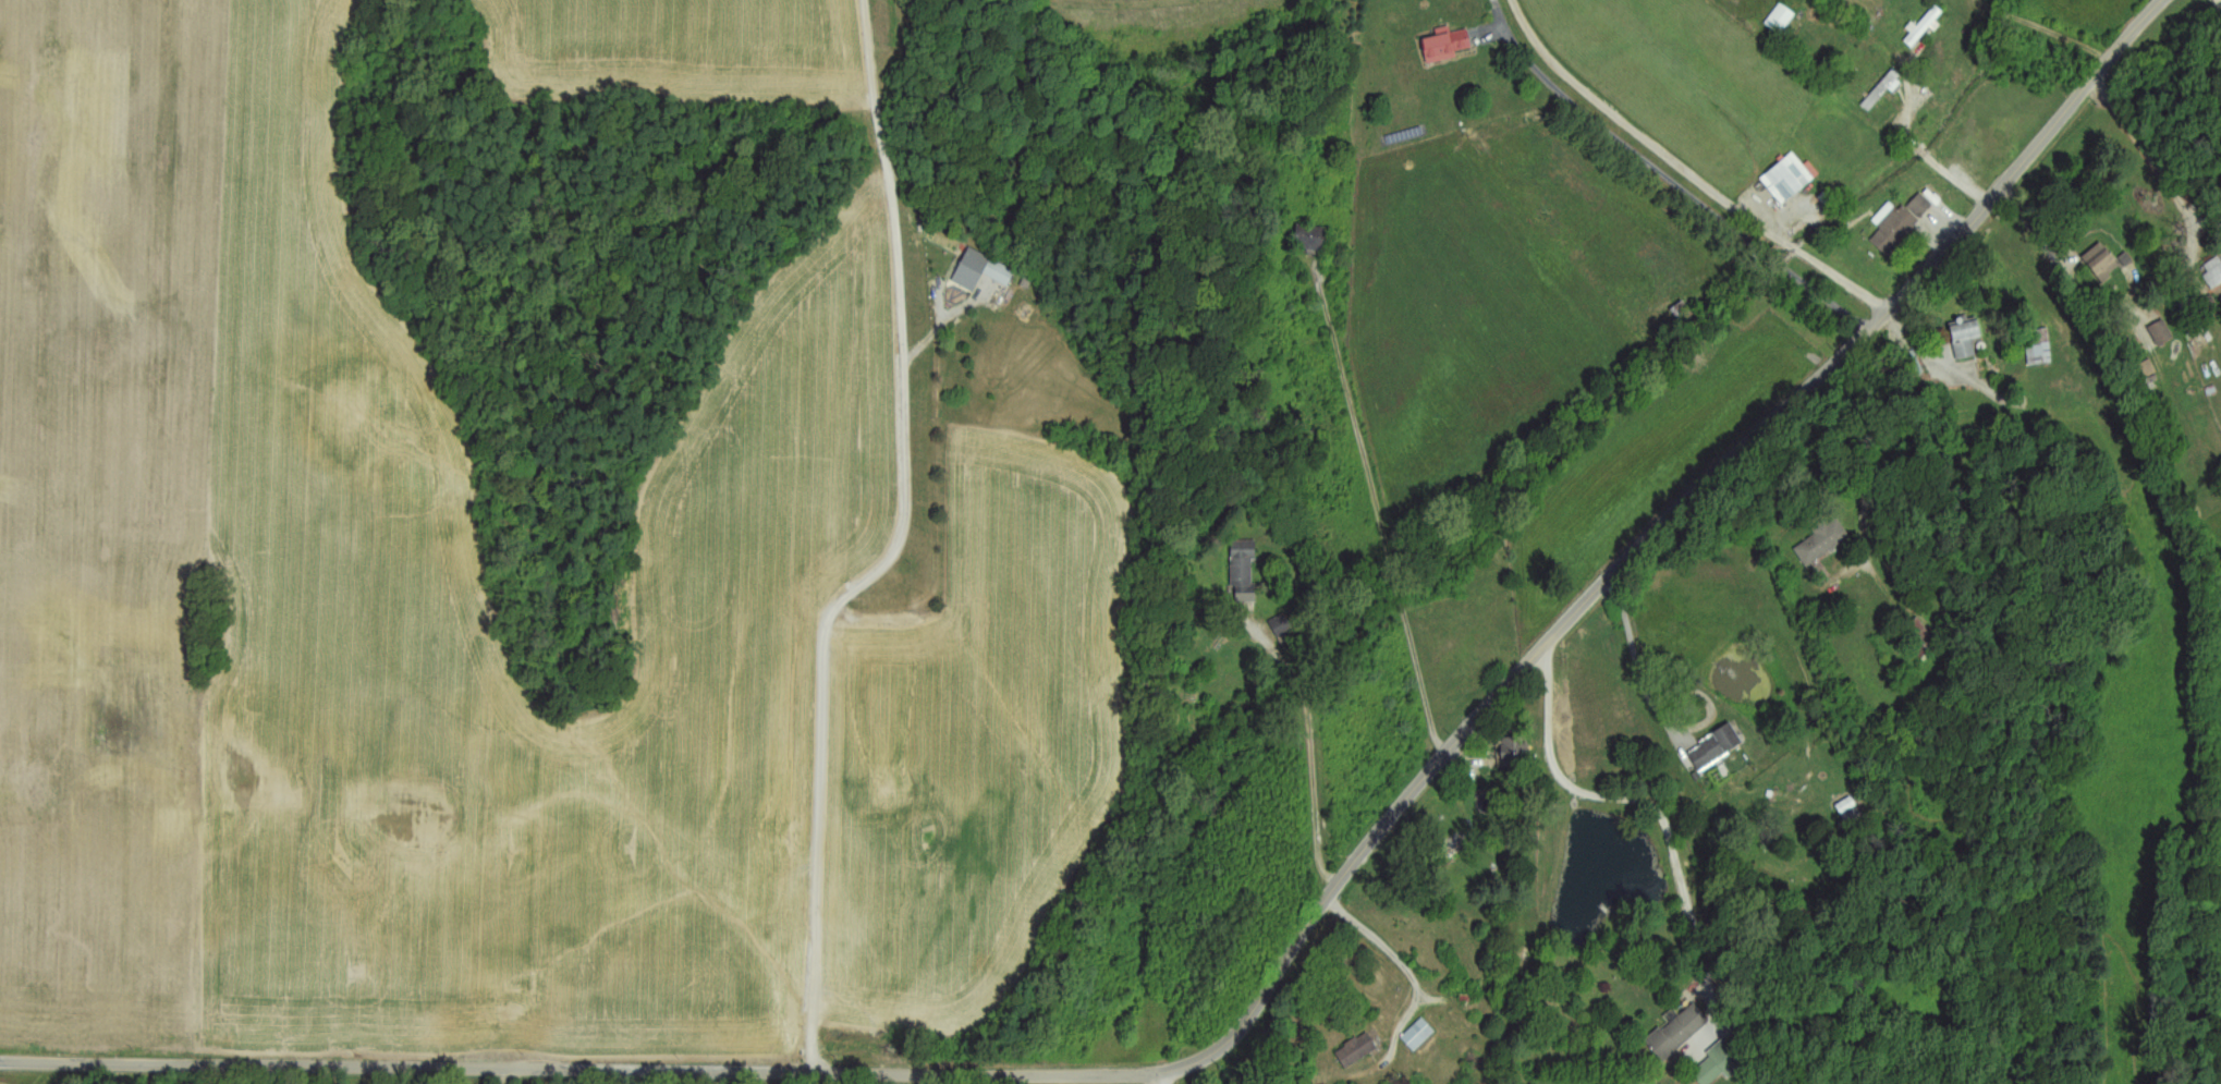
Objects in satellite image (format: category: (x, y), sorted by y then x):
building: (1782, 20)
building: (1926, 27)
building: (1448, 42)
road: (1924, 151)
road: (2151, 157)
road: (1689, 168)
building: (1789, 176)
building: (1903, 223)
building: (1313, 239)
building: (2103, 263)
building: (984, 270)
building: (2213, 273)
building: (2212, 306)
building: (1685, 314)
building: (2163, 333)
building: (1967, 339)
building: (2042, 348)
building: (2149, 369)
road: (1871, 466)
road: (1381, 516)
building: (1823, 543)
road: (901, 551)
building: (1245, 571)
building: (1923, 638)
road: (1658, 704)
road: (1314, 738)
building: (1717, 747)
building: (1514, 752)
road: (1626, 801)
building: (1526, 955)
road: (1402, 966)
road: (1274, 973)
building: (1680, 1031)
building: (1420, 1034)
building: (1358, 1049)
building: (1724, 1061)
road: (509, 1076)
road: (1160, 1077)

